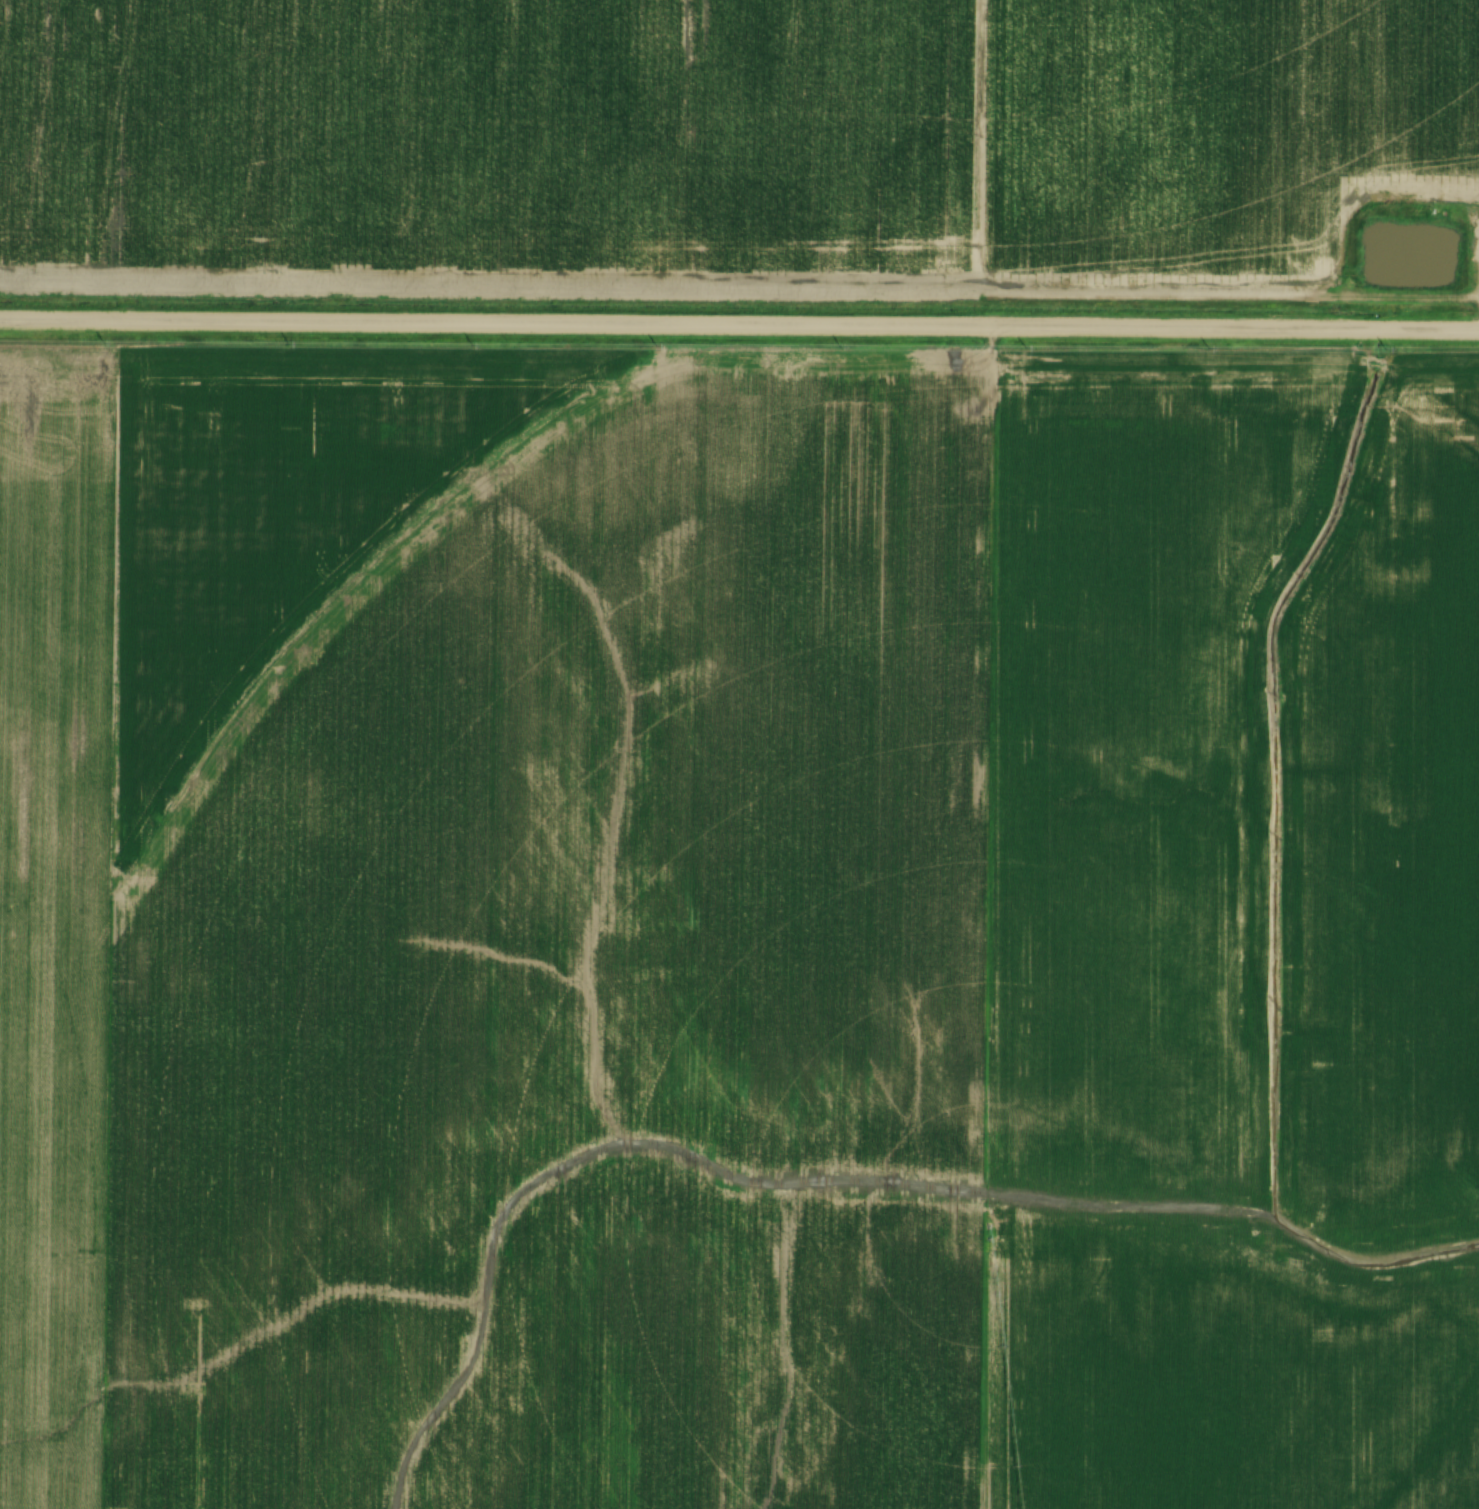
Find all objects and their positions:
road: (739, 329)

